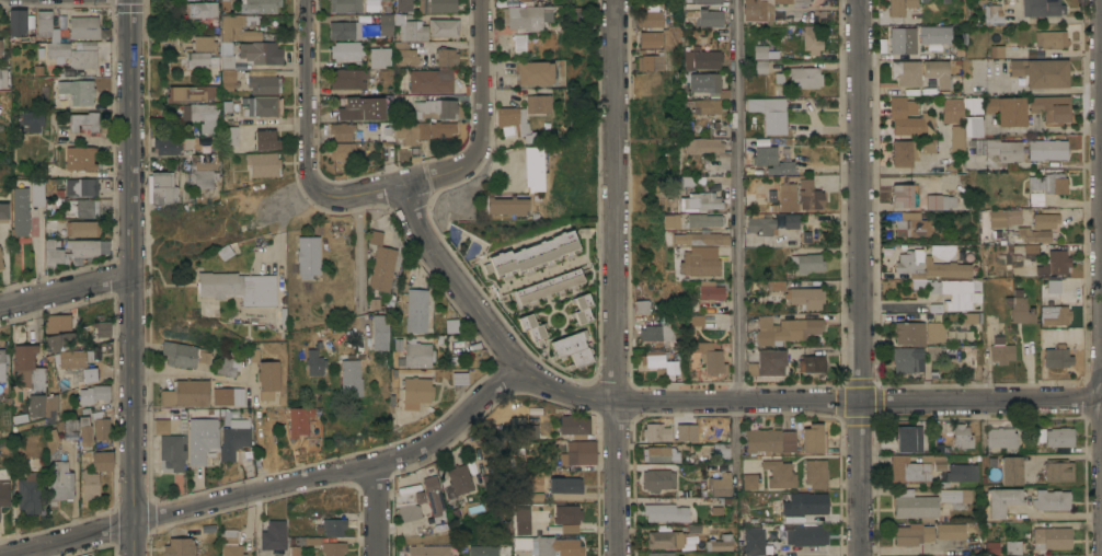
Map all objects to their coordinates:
building: (223, 1)
building: (701, 1)
building: (781, 2)
building: (259, 5)
building: (345, 5)
building: (383, 5)
building: (403, 5)
building: (436, 5)
building: (899, 7)
building: (1042, 8)
building: (200, 10)
building: (755, 10)
building: (690, 11)
building: (779, 11)
building: (574, 13)
building: (992, 14)
building: (525, 16)
building: (709, 18)
building: (652, 19)
building: (15, 22)
building: (386, 24)
building: (443, 26)
building: (45, 27)
building: (82, 27)
building: (228, 28)
building: (411, 28)
building: (347, 31)
building: (935, 35)
building: (654, 38)
building: (1052, 38)
building: (702, 39)
building: (812, 39)
building: (903, 39)
building: (519, 43)
building: (203, 44)
building: (405, 44)
building: (87, 45)
building: (223, 47)
building: (997, 49)
building: (57, 50)
building: (347, 50)
building: (259, 51)
building: (764, 53)
building: (379, 57)
building: (405, 57)
building: (447, 57)
building: (82, 59)
building: (199, 59)
building: (701, 59)
building: (225, 61)
building: (653, 61)
building: (761, 67)
building: (535, 72)
building: (937, 72)
building: (1041, 72)
building: (907, 73)
building: (226, 76)
building: (4, 77)
building: (805, 77)
building: (347, 78)
building: (779, 78)
building: (214, 79)
building: (432, 80)
building: (707, 84)
building: (264, 85)
building: (225, 86)
building: (78, 91)
building: (192, 93)
building: (537, 104)
building: (225, 106)
building: (262, 106)
building: (705, 106)
building: (425, 107)
building: (1051, 107)
building: (372, 108)
building: (1006, 109)
building: (184, 113)
building: (770, 113)
building: (205, 116)
road: (482, 116)
building: (909, 117)
building: (30, 120)
building: (83, 121)
building: (514, 121)
building: (972, 123)
building: (369, 126)
building: (424, 129)
building: (441, 129)
road: (1065, 129)
building: (386, 130)
building: (405, 134)
building: (230, 136)
building: (265, 140)
building: (710, 140)
building: (342, 141)
building: (173, 146)
building: (926, 146)
building: (999, 149)
building: (1046, 149)
building: (902, 153)
building: (79, 158)
building: (771, 161)
building: (204, 162)
building: (263, 164)
building: (531, 167)
building: (204, 178)
building: (691, 181)
building: (1049, 183)
building: (80, 186)
building: (163, 188)
road: (374, 192)
building: (36, 193)
building: (771, 193)
building: (810, 195)
building: (788, 197)
building: (939, 197)
building: (1035, 199)
building: (699, 201)
road: (737, 201)
building: (504, 205)
building: (80, 208)
building: (19, 210)
building: (3, 212)
building: (703, 220)
building: (670, 221)
building: (791, 221)
building: (1044, 221)
building: (998, 222)
building: (911, 224)
building: (760, 225)
building: (50, 228)
building: (81, 229)
building: (1031, 234)
road: (223, 235)
building: (375, 238)
building: (700, 239)
building: (69, 250)
building: (942, 251)
building: (222, 252)
building: (0, 255)
building: (307, 256)
building: (532, 256)
building: (1059, 259)
building: (807, 263)
building: (1, 264)
building: (699, 264)
building: (928, 266)
building: (381, 268)
road: (861, 277)
road: (133, 278)
road: (617, 278)
building: (776, 285)
building: (548, 287)
building: (1054, 287)
building: (239, 288)
road: (66, 291)
building: (710, 291)
building: (955, 292)
building: (805, 297)
building: (371, 304)
building: (644, 306)
building: (581, 308)
building: (416, 310)
building: (1020, 311)
building: (207, 313)
building: (1055, 314)
building: (972, 317)
building: (697, 320)
building: (451, 325)
building: (934, 327)
building: (533, 328)
building: (101, 329)
building: (789, 331)
building: (55, 332)
building: (378, 332)
building: (657, 333)
building: (909, 333)
building: (455, 347)
building: (572, 348)
building: (1002, 349)
building: (183, 355)
building: (254, 355)
building: (417, 355)
building: (968, 356)
building: (1057, 356)
building: (710, 357)
building: (906, 358)
building: (313, 361)
building: (654, 361)
building: (770, 362)
building: (72, 363)
building: (812, 363)
building: (2, 364)
building: (27, 364)
building: (226, 366)
building: (670, 367)
building: (750, 369)
road: (188, 373)
building: (90, 377)
building: (267, 379)
building: (348, 379)
building: (459, 379)
building: (415, 392)
building: (186, 393)
building: (93, 394)
building: (228, 396)
road: (806, 403)
building: (33, 405)
building: (49, 408)
building: (298, 420)
building: (317, 422)
building: (69, 426)
building: (161, 426)
building: (574, 426)
building: (101, 429)
building: (525, 430)
building: (83, 431)
building: (651, 431)
building: (50, 433)
building: (962, 436)
building: (1000, 437)
building: (1059, 437)
building: (907, 438)
building: (202, 439)
road: (735, 439)
building: (814, 439)
building: (310, 440)
building: (762, 440)
building: (233, 441)
building: (788, 441)
building: (172, 452)
building: (581, 452)
building: (720, 452)
building: (661, 454)
building: (101, 461)
building: (914, 466)
building: (1058, 470)
building: (1011, 471)
building: (963, 472)
building: (816, 473)
building: (779, 474)
building: (657, 479)
building: (59, 480)
building: (457, 482)
building: (749, 482)
building: (88, 485)
building: (563, 485)
building: (720, 485)
road: (278, 488)
building: (27, 493)
building: (417, 493)
building: (3, 494)
building: (536, 497)
building: (434, 498)
building: (952, 498)
building: (1002, 500)
building: (1052, 500)
building: (807, 502)
building: (915, 505)
road: (378, 510)
building: (667, 511)
building: (567, 514)
building: (523, 520)
building: (331, 526)
building: (210, 531)
building: (951, 531)
building: (774, 532)
building: (806, 534)
building: (912, 534)
building: (230, 535)
building: (273, 535)
building: (1053, 537)
building: (668, 538)
building: (290, 541)
building: (307, 541)
building: (755, 541)
building: (720, 543)
building: (521, 544)
building: (559, 546)
building: (180, 547)
building: (992, 547)
building: (1013, 547)
building: (333, 548)
building: (232, 551)
building: (294, 551)
building: (427, 551)
building: (484, 551)
building: (661, 554)

